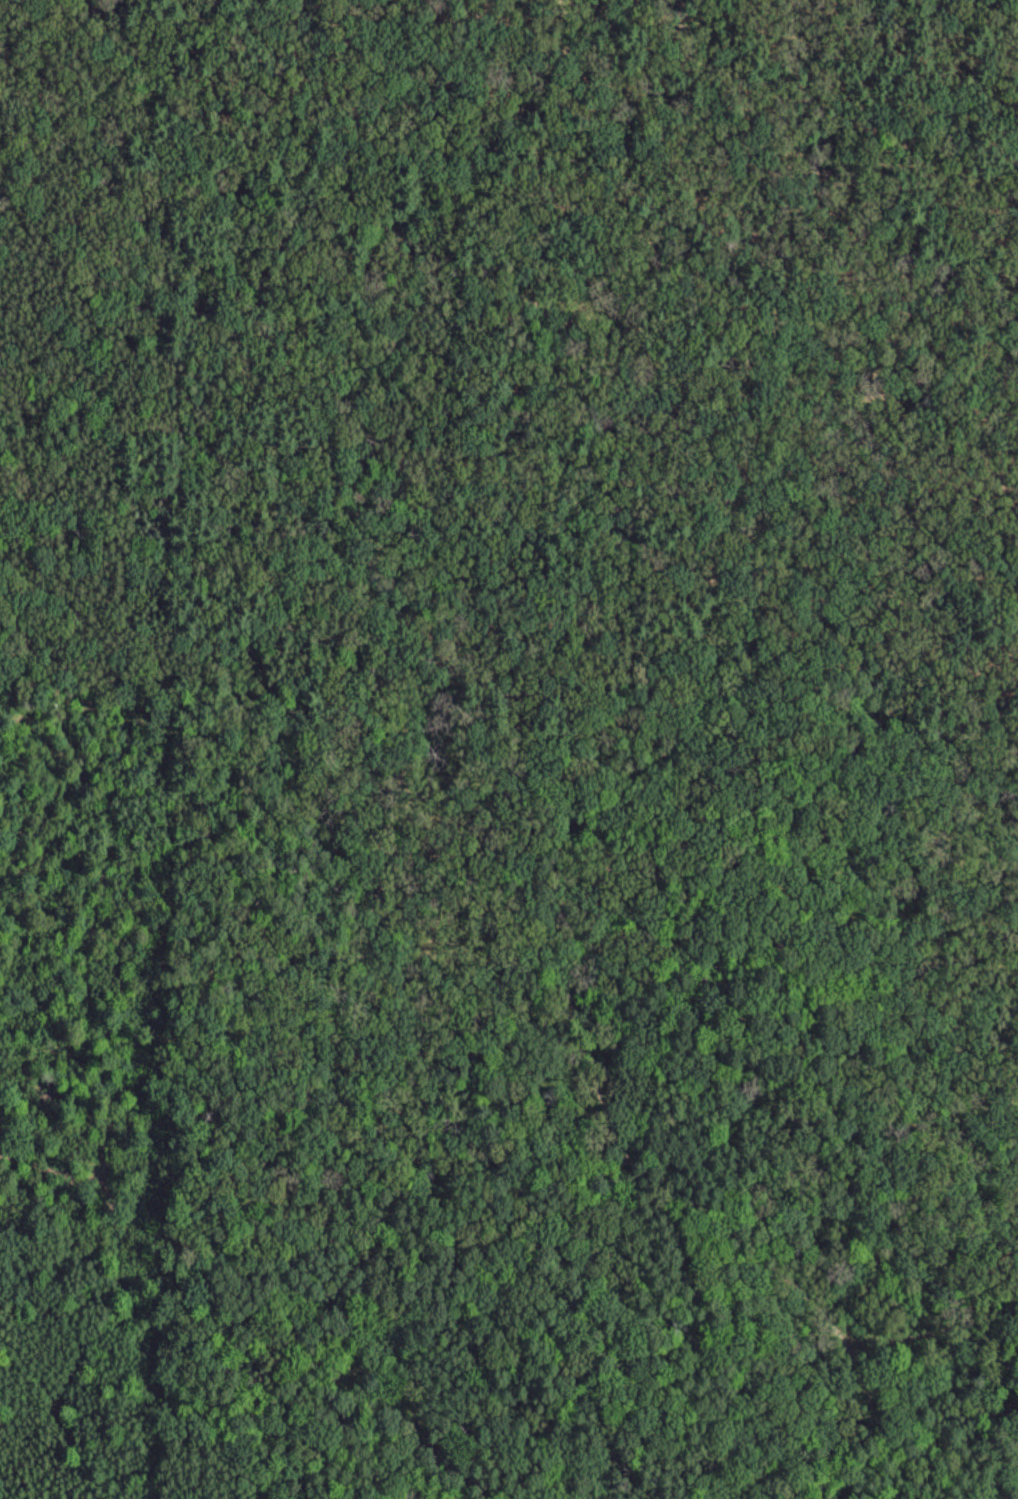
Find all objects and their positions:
road: (930, 933)

